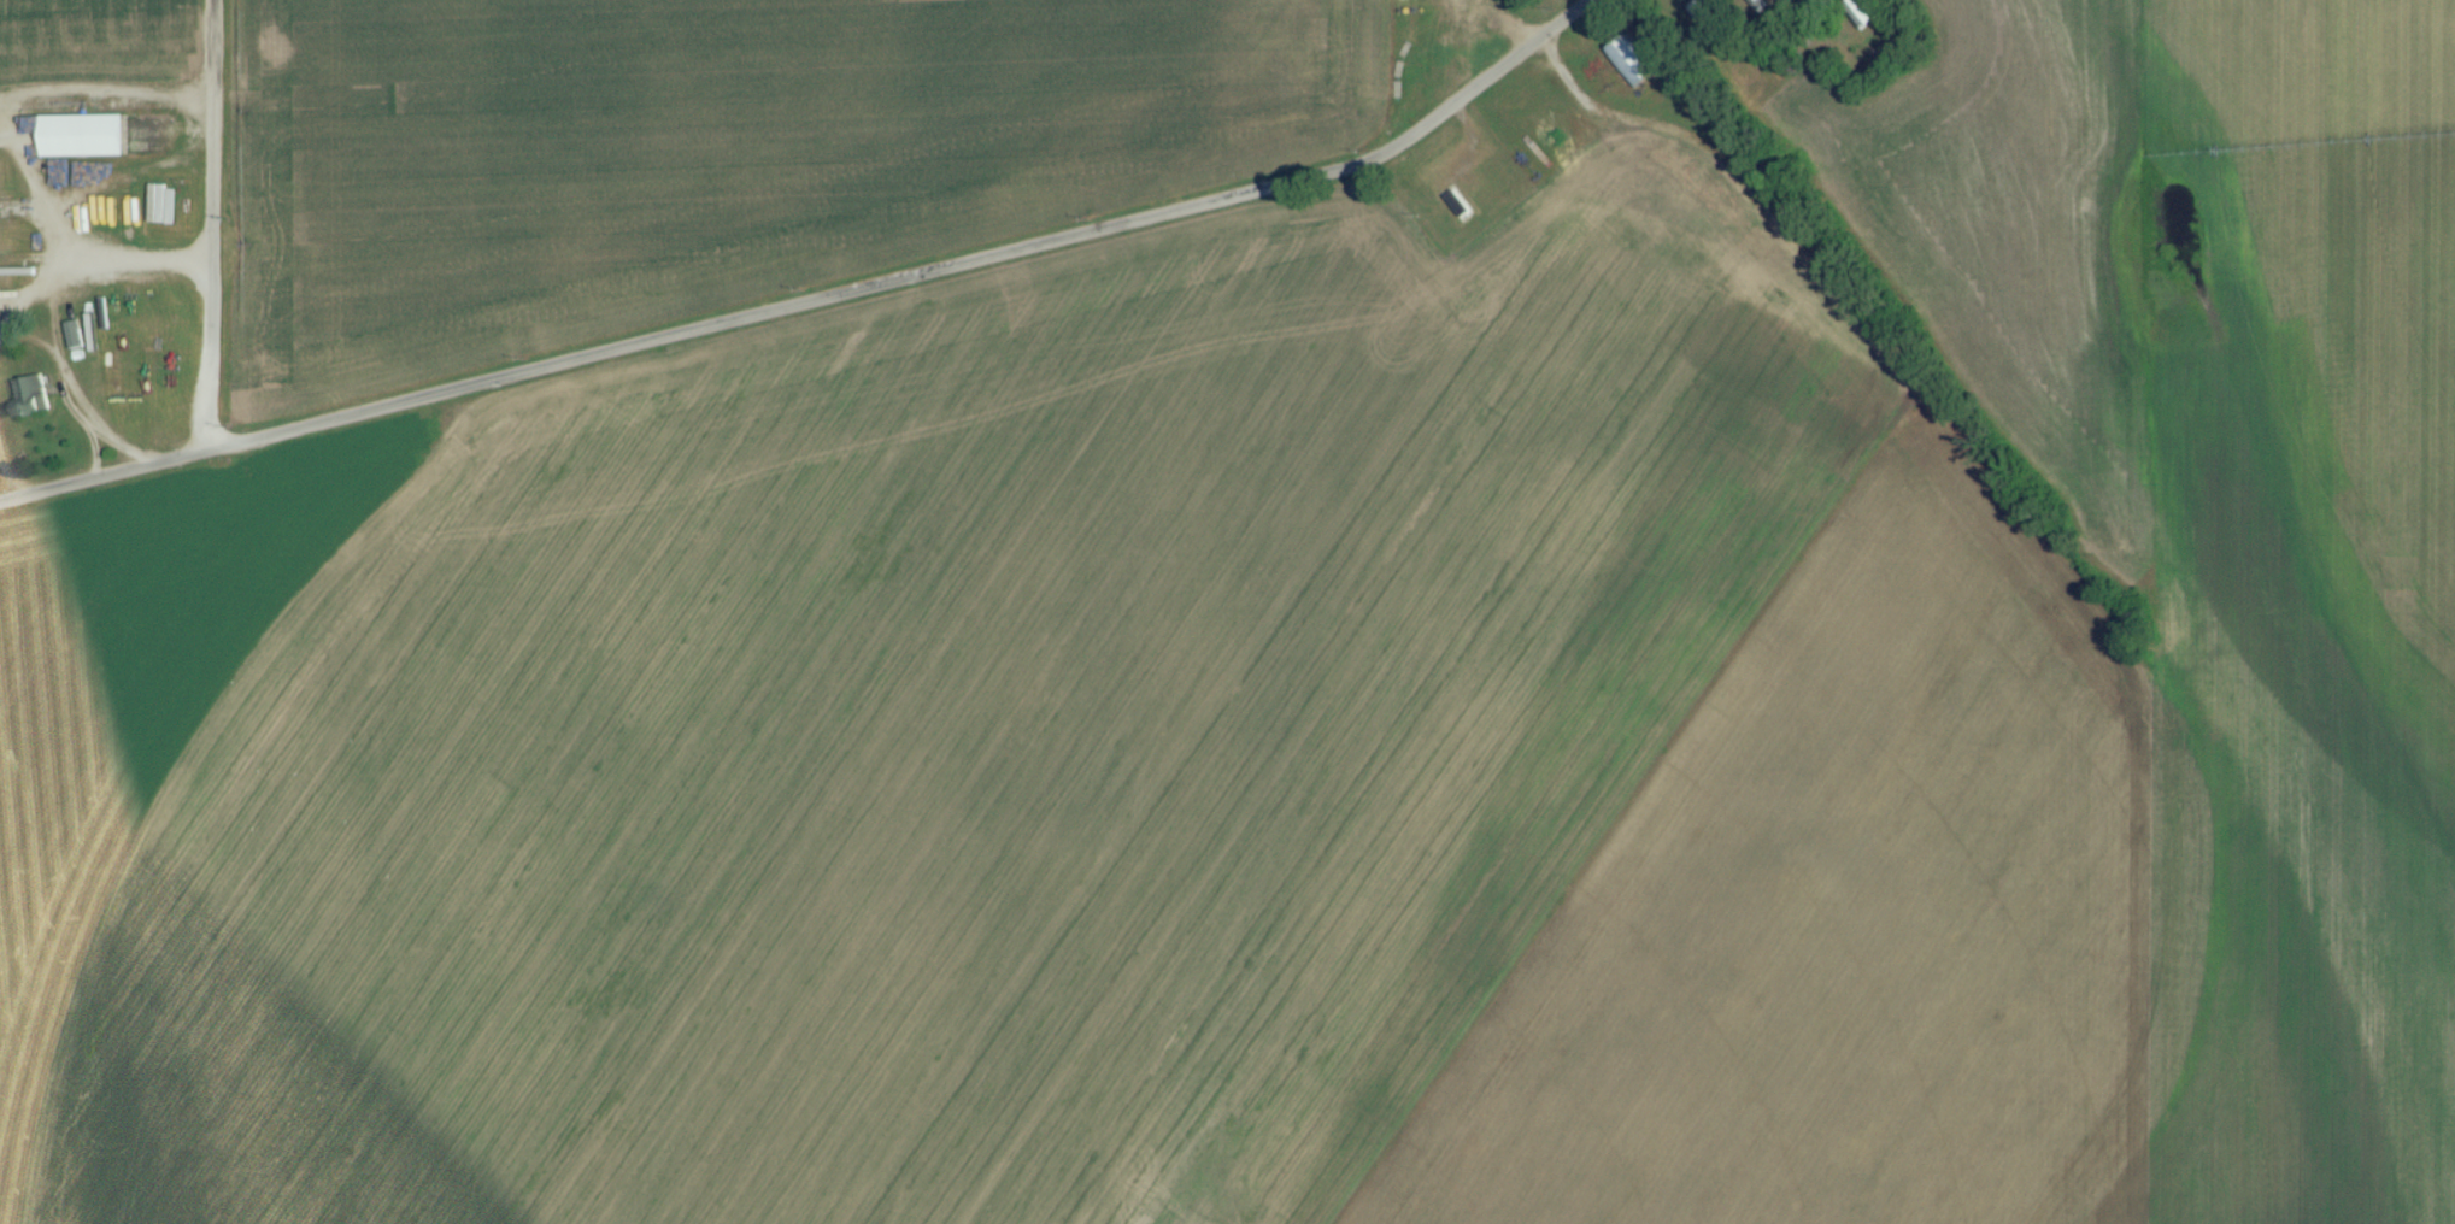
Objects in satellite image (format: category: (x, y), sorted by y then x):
building: (1761, 7)
building: (1862, 19)
building: (1631, 69)
road: (20, 95)
building: (80, 145)
building: (1458, 213)
road: (207, 225)
road: (88, 266)
road: (817, 298)
building: (74, 343)
road: (61, 365)
building: (30, 404)
road: (96, 434)

